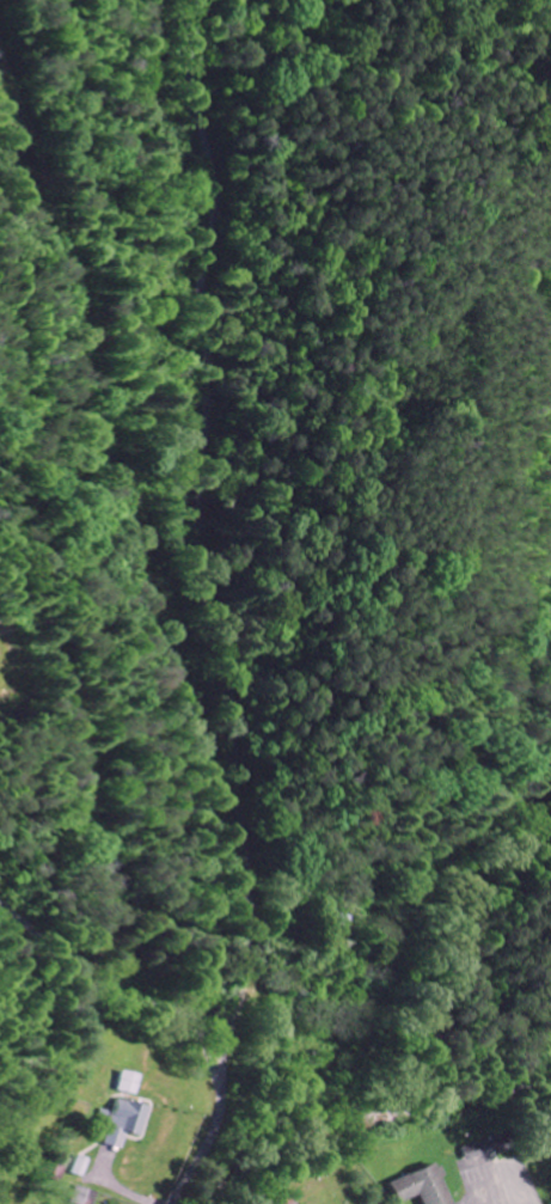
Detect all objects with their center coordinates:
road: (102, 477)
road: (215, 605)
road: (430, 947)
building: (122, 1122)
building: (417, 1186)
building: (90, 1196)
building: (286, 1200)

